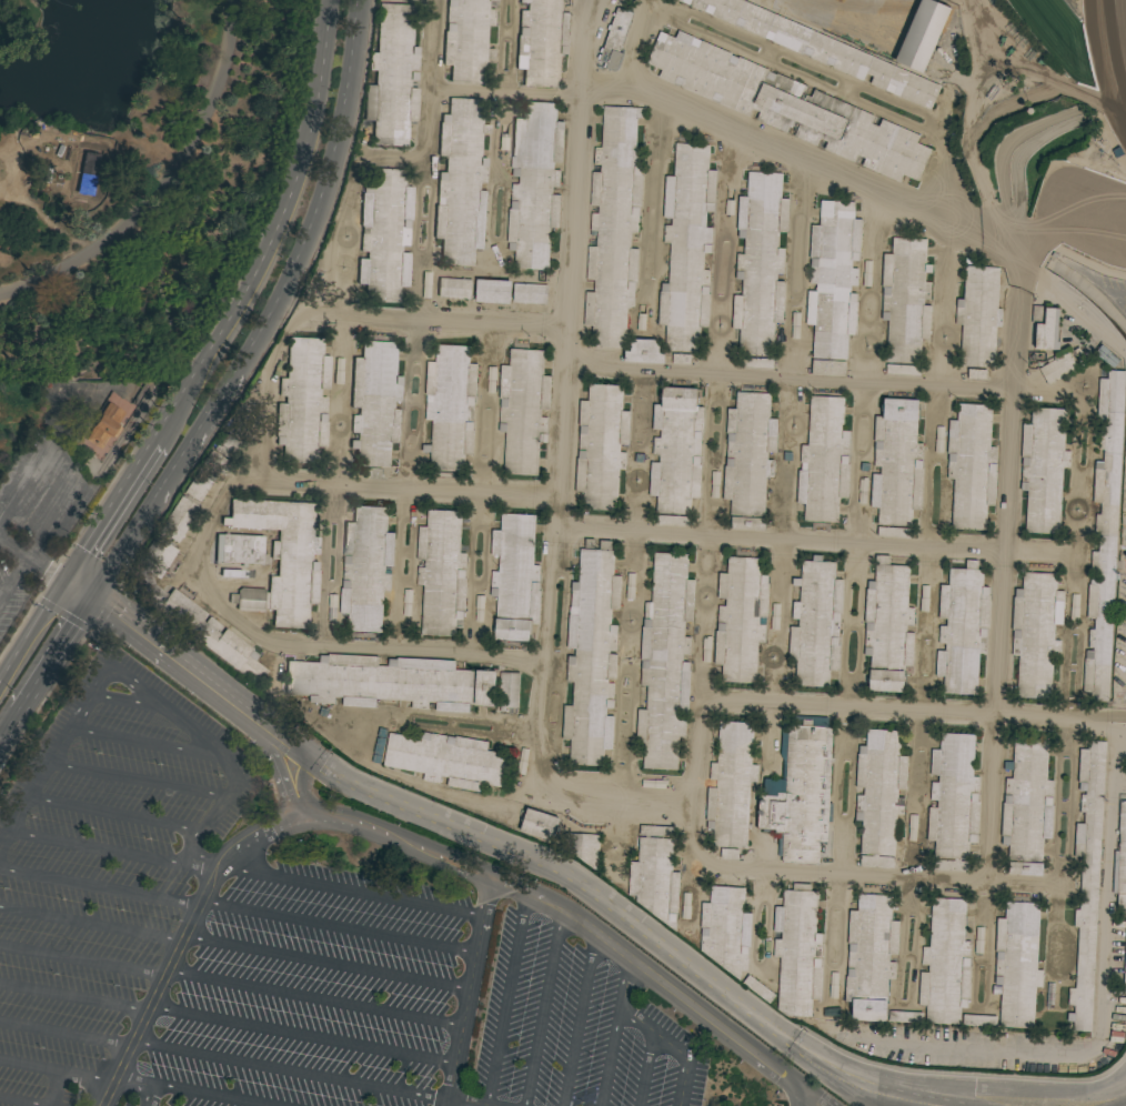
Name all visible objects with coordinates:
road: (861, 7)
road: (881, 7)
track: (1059, 29)
building: (922, 34)
building: (466, 39)
building: (614, 39)
building: (541, 41)
building: (823, 49)
track: (1108, 56)
building: (392, 77)
building: (787, 105)
building: (503, 137)
road: (390, 160)
road: (806, 164)
road: (329, 168)
building: (87, 172)
building: (461, 182)
building: (534, 183)
road: (164, 185)
building: (730, 202)
track: (1080, 213)
park: (122, 223)
building: (613, 227)
road: (280, 233)
building: (384, 234)
building: (686, 247)
road: (1080, 248)
building: (760, 263)
building: (866, 273)
building: (833, 278)
building: (425, 284)
building: (454, 288)
building: (493, 291)
building: (529, 293)
building: (905, 304)
road: (1078, 305)
road: (145, 313)
building: (1037, 314)
building: (641, 316)
building: (978, 316)
building: (794, 325)
building: (1047, 330)
building: (643, 351)
building: (1106, 356)
building: (681, 359)
building: (755, 362)
building: (828, 368)
building: (1057, 369)
building: (338, 371)
building: (976, 373)
road: (814, 379)
building: (491, 380)
building: (302, 401)
building: (374, 403)
building: (450, 406)
building: (522, 410)
building: (103, 424)
building: (939, 439)
building: (230, 440)
building: (601, 446)
building: (676, 450)
building: (748, 459)
road: (177, 460)
building: (823, 461)
building: (896, 463)
building: (971, 465)
building: (1043, 469)
road: (555, 470)
building: (371, 473)
building: (204, 475)
building: (714, 484)
road: (395, 487)
road: (76, 489)
building: (862, 490)
road: (223, 494)
road: (114, 511)
parking lot: (36, 517)
building: (178, 519)
building: (673, 521)
building: (892, 532)
building: (1104, 535)
road: (814, 540)
building: (238, 549)
road: (34, 557)
building: (280, 559)
building: (365, 567)
building: (224, 572)
building: (441, 572)
road: (1001, 575)
building: (514, 577)
traffic signals: (69, 581)
building: (630, 586)
traffic signals: (90, 594)
building: (924, 597)
building: (406, 602)
building: (1074, 606)
building: (332, 607)
building: (479, 607)
building: (192, 614)
building: (774, 616)
building: (740, 619)
building: (815, 623)
building: (887, 625)
building: (962, 629)
road: (87, 630)
road: (33, 632)
building: (1035, 632)
road: (50, 653)
building: (591, 655)
building: (664, 661)
building: (389, 682)
road: (212, 685)
building: (507, 690)
road: (46, 695)
road: (151, 700)
road: (124, 701)
road: (6, 722)
road: (143, 741)
road: (697, 754)
building: (448, 760)
building: (521, 761)
road: (138, 780)
building: (654, 784)
building: (731, 784)
building: (800, 791)
building: (878, 795)
building: (953, 802)
building: (1027, 806)
road: (114, 815)
building: (539, 824)
building: (912, 826)
building: (655, 831)
road: (421, 845)
road: (94, 846)
building: (583, 847)
building: (728, 853)
building: (1122, 858)
parking lot: (104, 872)
building: (654, 879)
building: (1087, 881)
road: (100, 888)
road: (355, 891)
road: (623, 918)
road: (91, 924)
road: (341, 926)
building: (725, 928)
building: (978, 939)
building: (797, 951)
building: (869, 956)
road: (82, 961)
road: (330, 962)
building: (1017, 963)
building: (945, 964)
building: (1125, 967)
building: (832, 985)
building: (757, 988)
parking lot: (313, 992)
road: (472, 992)
building: (1049, 995)
road: (74, 998)
road: (318, 998)
road: (505, 998)
road: (542, 1007)
road: (577, 1016)
building: (904, 1016)
building: (978, 1020)
road: (1097, 1023)
parking lot: (572, 1029)
road: (651, 1029)
road: (304, 1037)
road: (609, 1057)
road: (225, 1062)
road: (28, 1066)
road: (644, 1068)
road: (84, 1078)
road: (148, 1084)
road: (52, 1088)
road: (211, 1096)
road: (801, 1097)
road: (17, 1103)
road: (465, 1103)

